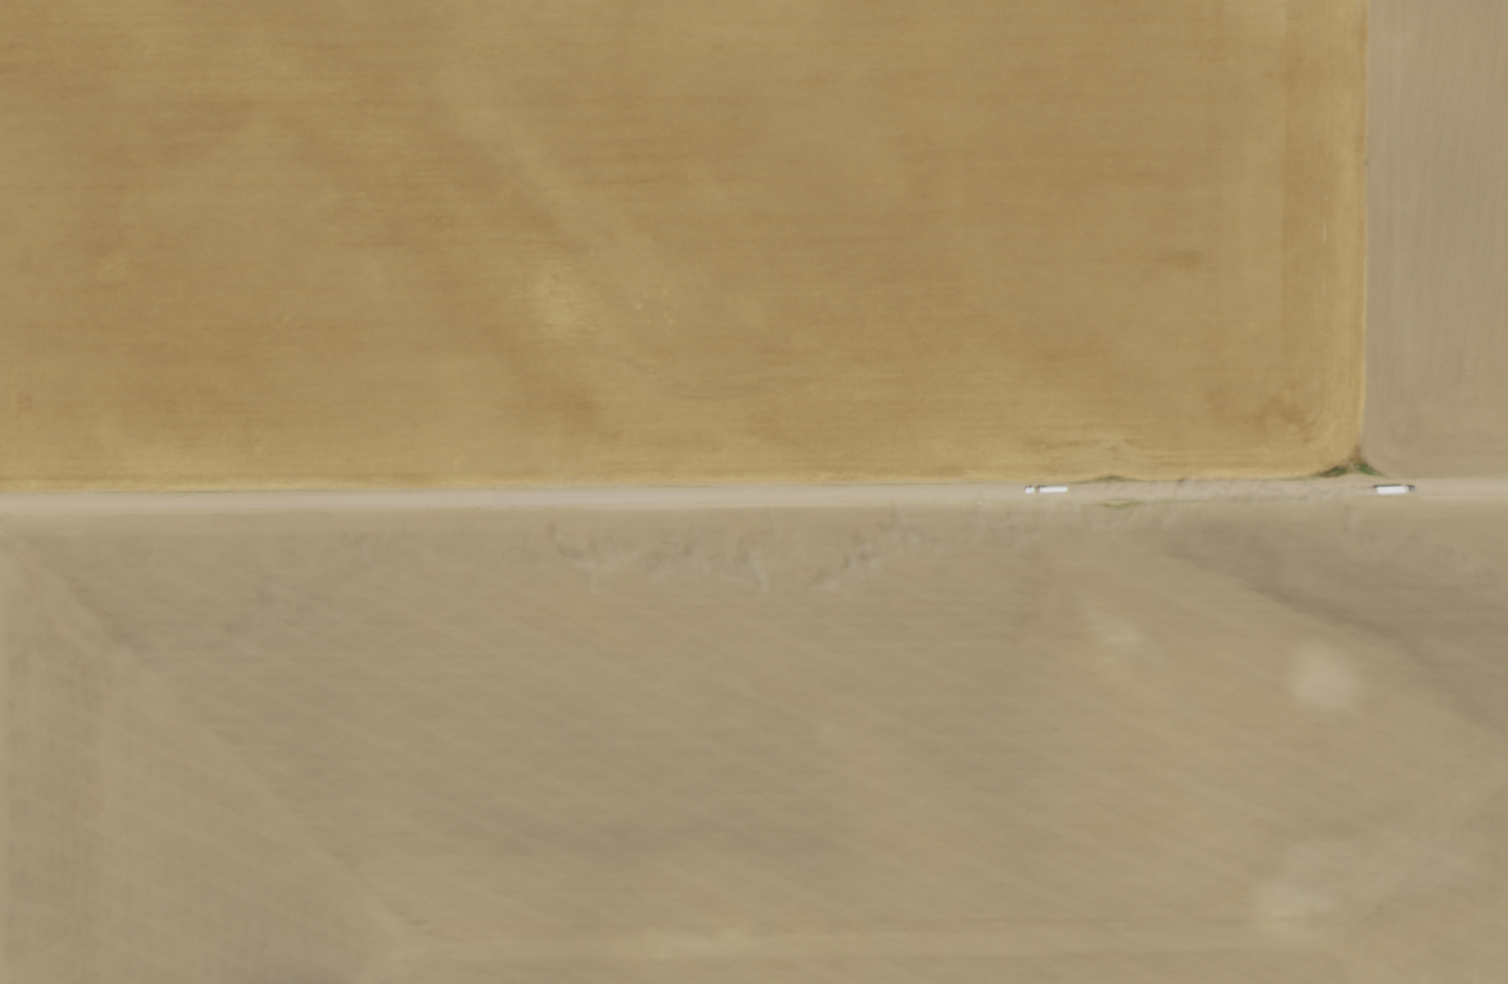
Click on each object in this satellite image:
crop: (750, 237)
road: (753, 494)
crop: (759, 746)

